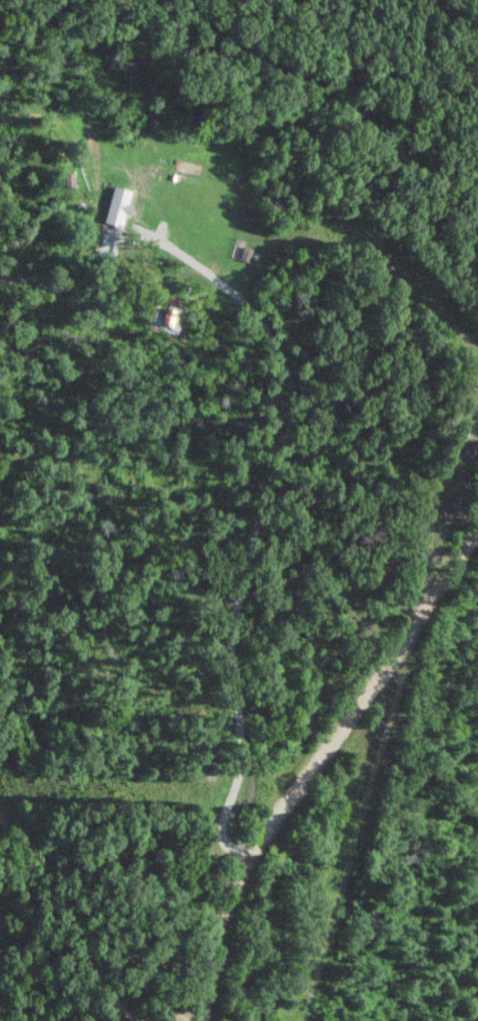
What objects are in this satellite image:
building: (111, 248)
road: (324, 770)

